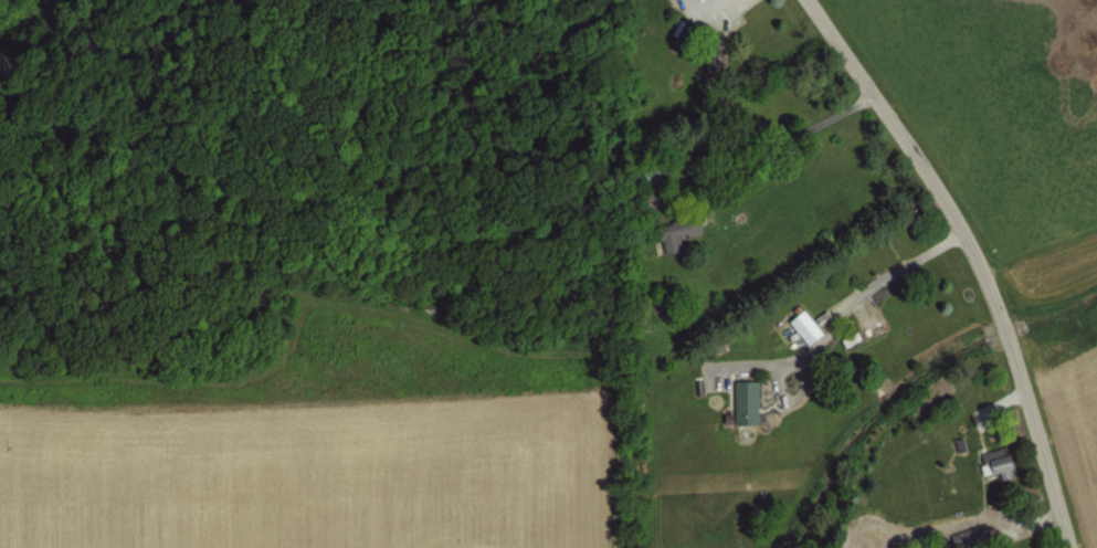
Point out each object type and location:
road: (773, 144)
crop: (1022, 148)
building: (674, 229)
road: (975, 256)
crop: (310, 274)
road: (864, 289)
building: (801, 325)
building: (846, 338)
building: (741, 400)
building: (956, 443)
building: (995, 459)
building: (967, 535)
road: (1064, 545)

